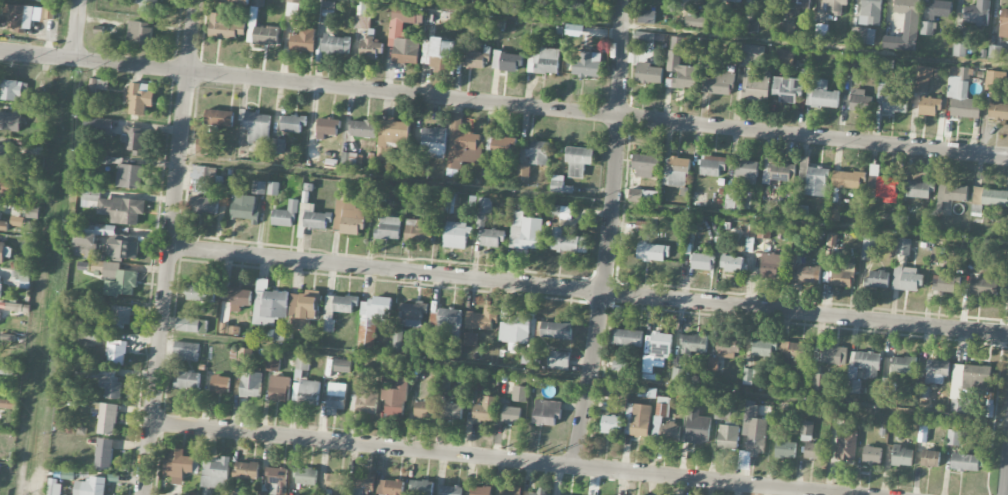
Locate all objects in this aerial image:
building: (730, 0)
building: (777, 0)
building: (809, 0)
building: (231, 2)
building: (146, 4)
building: (833, 6)
building: (292, 8)
building: (576, 9)
building: (940, 9)
building: (870, 12)
building: (977, 13)
building: (26, 15)
building: (646, 16)
building: (695, 21)
building: (362, 22)
building: (715, 23)
building: (1004, 23)
building: (224, 25)
building: (749, 26)
building: (262, 27)
building: (905, 27)
building: (786, 28)
building: (927, 28)
road: (77, 29)
building: (821, 30)
building: (396, 31)
building: (862, 35)
building: (644, 36)
building: (304, 40)
building: (333, 44)
building: (369, 48)
building: (959, 50)
building: (426, 51)
building: (994, 51)
building: (752, 52)
building: (442, 53)
building: (784, 57)
building: (477, 59)
building: (507, 61)
building: (544, 61)
building: (586, 65)
building: (680, 65)
building: (649, 73)
building: (959, 73)
building: (920, 80)
building: (995, 80)
building: (718, 83)
building: (98, 85)
building: (756, 86)
building: (788, 88)
building: (14, 89)
building: (821, 94)
building: (138, 97)
building: (892, 100)
building: (859, 101)
building: (964, 102)
road: (503, 104)
building: (929, 106)
building: (998, 111)
building: (219, 117)
building: (10, 121)
building: (455, 121)
building: (293, 123)
building: (98, 126)
building: (257, 127)
building: (327, 127)
building: (363, 128)
building: (391, 136)
building: (134, 140)
building: (433, 140)
building: (502, 145)
building: (277, 146)
building: (204, 147)
building: (312, 149)
building: (537, 152)
building: (4, 155)
building: (578, 160)
building: (348, 161)
building: (646, 165)
building: (712, 166)
building: (523, 171)
building: (675, 171)
building: (747, 172)
building: (779, 172)
building: (129, 176)
building: (202, 178)
building: (848, 179)
building: (816, 181)
building: (557, 183)
building: (884, 186)
building: (5, 187)
building: (259, 187)
building: (273, 188)
building: (919, 189)
building: (951, 194)
building: (643, 196)
building: (88, 198)
building: (989, 198)
building: (733, 199)
building: (204, 205)
building: (484, 205)
building: (244, 206)
building: (121, 209)
building: (560, 211)
building: (0, 212)
building: (286, 214)
building: (347, 214)
building: (313, 217)
building: (16, 221)
building: (903, 222)
building: (4, 225)
building: (389, 228)
building: (419, 230)
building: (763, 231)
building: (525, 232)
road: (609, 234)
building: (456, 235)
building: (492, 238)
building: (86, 241)
building: (567, 241)
building: (903, 246)
road: (167, 247)
building: (868, 247)
building: (123, 248)
building: (2, 252)
building: (653, 252)
building: (935, 254)
building: (703, 261)
building: (733, 263)
building: (772, 264)
building: (809, 274)
building: (842, 274)
building: (118, 279)
building: (877, 279)
building: (906, 279)
building: (945, 283)
building: (984, 287)
building: (0, 290)
road: (587, 290)
building: (201, 293)
building: (239, 298)
building: (269, 304)
building: (338, 306)
building: (303, 307)
building: (413, 314)
building: (121, 316)
building: (483, 318)
building: (372, 319)
building: (449, 323)
building: (190, 324)
building: (556, 330)
building: (515, 332)
building: (625, 337)
building: (398, 339)
building: (470, 339)
building: (694, 343)
building: (661, 346)
building: (764, 348)
building: (726, 349)
building: (116, 351)
building: (186, 351)
building: (798, 351)
building: (245, 355)
building: (834, 355)
building: (558, 360)
building: (272, 364)
building: (712, 364)
building: (903, 364)
building: (618, 367)
building: (862, 368)
building: (936, 370)
building: (88, 372)
building: (675, 374)
building: (747, 376)
building: (187, 380)
building: (820, 382)
building: (305, 383)
building: (220, 384)
building: (251, 384)
building: (111, 386)
building: (280, 388)
building: (923, 392)
building: (519, 393)
building: (336, 397)
building: (367, 400)
building: (394, 401)
building: (8, 403)
building: (425, 408)
building: (453, 410)
building: (485, 410)
building: (546, 412)
building: (722, 412)
building: (511, 414)
building: (107, 419)
building: (637, 420)
building: (657, 420)
building: (611, 424)
building: (697, 426)
building: (806, 431)
building: (922, 433)
building: (752, 436)
building: (728, 437)
building: (954, 437)
building: (845, 448)
building: (785, 449)
building: (813, 451)
building: (104, 453)
building: (872, 455)
building: (902, 456)
road: (494, 458)
building: (930, 459)
building: (965, 462)
building: (182, 464)
building: (246, 470)
building: (216, 473)
building: (306, 476)
building: (277, 481)
building: (336, 483)
building: (364, 483)
building: (55, 487)
building: (90, 487)
building: (389, 487)
building: (421, 487)
building: (451, 490)
building: (482, 490)
building: (511, 490)

